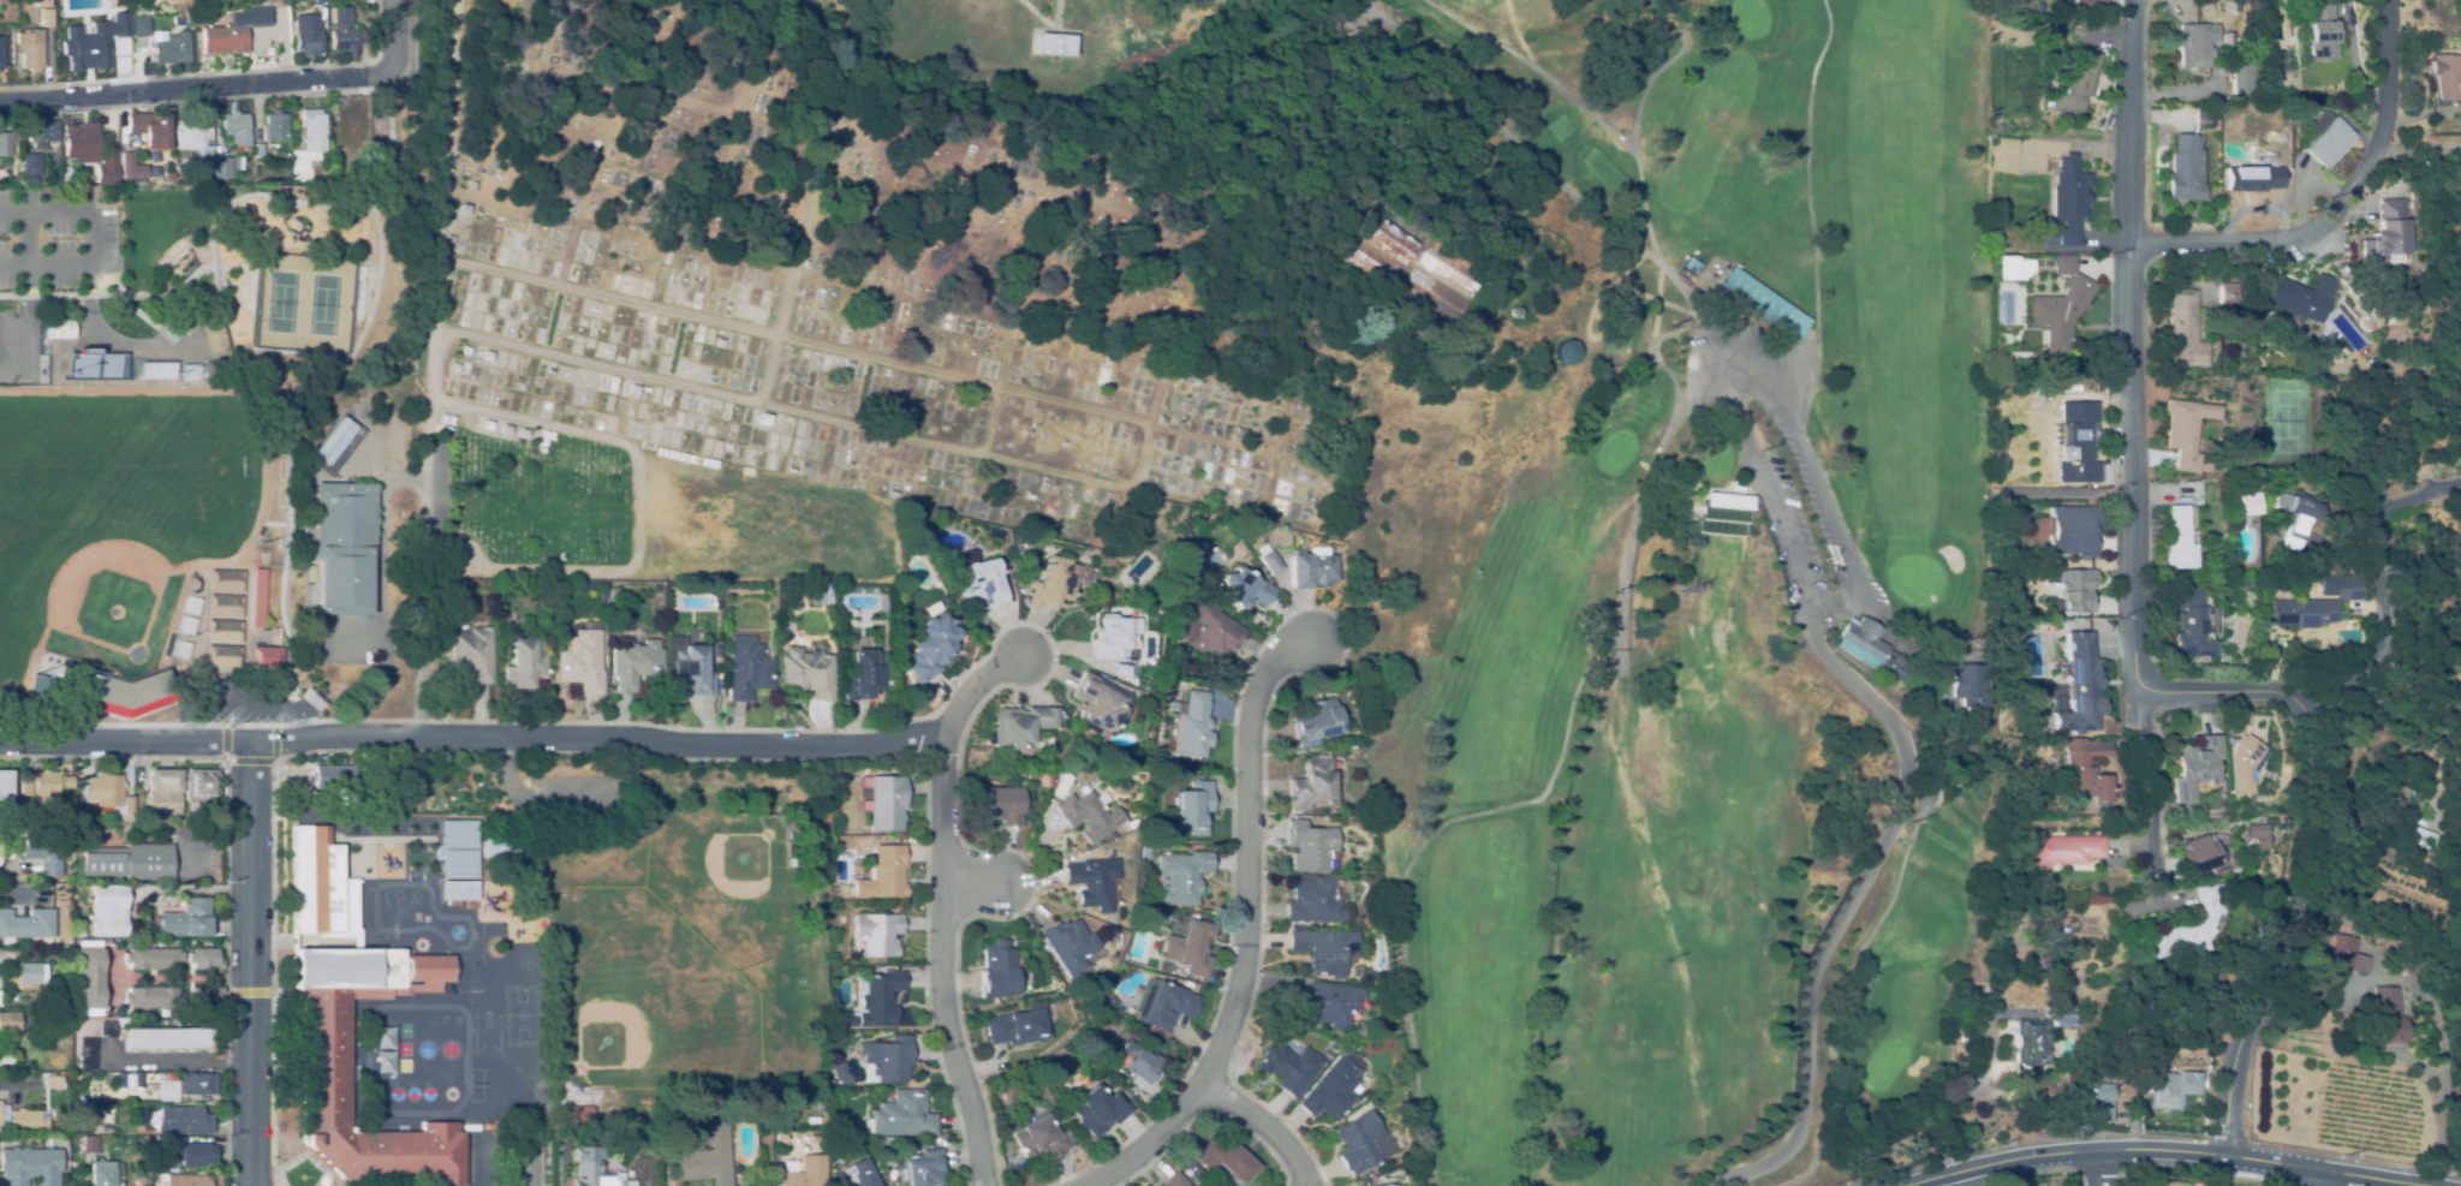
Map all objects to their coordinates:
building: (800, 5)
building: (2087, 5)
building: (132, 6)
building: (197, 18)
building: (43, 19)
building: (187, 19)
building: (99, 22)
building: (119, 24)
building: (138, 26)
building: (233, 30)
building: (345, 32)
building: (2323, 32)
road: (399, 34)
building: (308, 40)
building: (2228, 42)
building: (1056, 44)
building: (2195, 46)
building: (168, 48)
building: (0, 49)
building: (29, 49)
building: (85, 50)
building: (2448, 77)
building: (2242, 78)
building: (2076, 84)
road: (197, 85)
building: (2301, 111)
building: (2205, 117)
building: (275, 126)
building: (150, 129)
building: (237, 130)
building: (41, 132)
building: (348, 132)
road: (1615, 136)
building: (193, 137)
building: (2278, 137)
building: (2328, 138)
building: (78, 142)
building: (5, 144)
building: (309, 145)
road: (893, 147)
road: (2423, 147)
building: (260, 150)
building: (30, 165)
building: (107, 166)
building: (132, 167)
building: (222, 167)
building: (2186, 168)
building: (168, 175)
building: (2252, 177)
building: (138, 181)
building: (473, 183)
building: (854, 195)
building: (2069, 199)
road: (2341, 208)
building: (464, 209)
building: (1996, 236)
building: (2385, 236)
parking lot: (54, 237)
building: (448, 237)
road: (26, 238)
road: (93, 238)
building: (1354, 250)
building: (2417, 263)
building: (805, 264)
building: (1693, 267)
building: (2007, 267)
building: (2034, 267)
park: (893, 279)
building: (1418, 280)
building: (2228, 294)
building: (2301, 297)
building: (1764, 303)
building: (2060, 308)
building: (1497, 311)
park: (222, 315)
building: (181, 321)
building: (58, 324)
building: (2185, 330)
building: (216, 341)
building: (720, 342)
park: (18, 351)
building: (465, 351)
building: (1553, 351)
building: (487, 356)
building: (94, 364)
building: (244, 365)
road: (430, 366)
building: (454, 368)
building: (633, 389)
road: (1765, 393)
building: (442, 418)
building: (763, 419)
building: (451, 421)
building: (910, 424)
building: (487, 425)
building: (506, 430)
building: (2185, 433)
building: (523, 434)
building: (543, 439)
building: (334, 440)
building: (2078, 441)
road: (1146, 448)
road: (1806, 457)
building: (803, 465)
building: (791, 470)
building: (943, 483)
building: (1730, 487)
parking lot: (1794, 490)
building: (302, 493)
building: (893, 494)
road: (665, 496)
building: (2247, 503)
building: (1721, 514)
building: (2295, 519)
building: (905, 528)
building: (2070, 530)
park: (112, 538)
building: (2176, 540)
building: (344, 546)
building: (1191, 555)
building: (1269, 559)
building: (239, 565)
building: (1312, 567)
building: (226, 580)
road: (2376, 580)
building: (981, 583)
building: (1053, 583)
park: (1691, 585)
building: (1245, 590)
building: (2072, 590)
building: (613, 596)
building: (258, 598)
building: (2314, 606)
building: (226, 607)
building: (2187, 621)
building: (1174, 625)
building: (225, 631)
building: (1214, 632)
building: (1114, 643)
building: (774, 644)
building: (929, 648)
building: (1858, 648)
building: (715, 651)
building: (472, 654)
building: (224, 656)
building: (267, 657)
building: (580, 662)
building: (523, 663)
building: (633, 664)
building: (2027, 667)
road: (2140, 667)
building: (745, 669)
building: (691, 671)
building: (806, 673)
building: (862, 675)
building: (1959, 685)
building: (2072, 686)
building: (125, 689)
building: (44, 690)
road: (975, 690)
building: (1096, 704)
building: (1318, 722)
road: (136, 723)
building: (1018, 726)
building: (1193, 726)
road: (469, 735)
road: (600, 752)
road: (250, 759)
building: (2235, 759)
building: (2185, 767)
road: (1897, 768)
building: (2072, 768)
building: (864, 771)
building: (2001, 771)
building: (423, 776)
building: (333, 777)
building: (1042, 780)
building: (48, 783)
building: (1311, 783)
road: (2144, 785)
building: (1059, 786)
building: (199, 787)
building: (109, 789)
building: (5, 791)
building: (163, 792)
building: (881, 803)
building: (996, 805)
building: (1192, 807)
building: (129, 809)
building: (1084, 816)
building: (1131, 823)
building: (87, 824)
building: (458, 834)
building: (2251, 835)
building: (2421, 836)
building: (43, 845)
building: (1309, 846)
building: (499, 848)
building: (2051, 850)
building: (1098, 851)
building: (1144, 852)
building: (2189, 854)
road: (227, 859)
building: (129, 862)
road: (196, 862)
building: (459, 864)
road: (2, 872)
building: (881, 875)
building: (1179, 877)
building: (1089, 884)
road: (196, 889)
building: (458, 890)
building: (1313, 900)
building: (108, 911)
building: (187, 919)
building: (26, 924)
building: (2176, 926)
road: (1247, 929)
building: (82, 934)
building: (876, 934)
building: (1067, 946)
building: (1188, 946)
building: (1324, 949)
building: (2353, 954)
building: (25, 955)
building: (153, 958)
building: (2407, 958)
building: (204, 959)
road: (940, 961)
road: (250, 965)
building: (996, 971)
building: (28, 973)
building: (89, 978)
road: (249, 991)
park: (643, 996)
building: (153, 997)
building: (204, 997)
building: (874, 1002)
building: (327, 1003)
building: (1167, 1005)
building: (1334, 1005)
building: (2390, 1017)
building: (2058, 1018)
building: (10, 1021)
building: (1018, 1026)
building: (107, 1030)
building: (165, 1038)
building: (2026, 1042)
building: (88, 1054)
building: (6, 1059)
building: (888, 1059)
road: (179, 1061)
building: (2153, 1062)
building: (1289, 1067)
building: (1143, 1068)
building: (840, 1072)
building: (129, 1079)
building: (54, 1080)
road: (6, 1083)
building: (186, 1086)
building: (2170, 1089)
building: (1333, 1090)
building: (2102, 1097)
building: (91, 1099)
building: (1098, 1110)
building: (0, 1113)
building: (902, 1115)
building: (577, 1116)
building: (28, 1120)
building: (183, 1121)
road: (1264, 1126)
building: (842, 1128)
building: (101, 1130)
building: (488, 1130)
building: (1039, 1139)
building: (23, 1142)
building: (1361, 1143)
building: (90, 1145)
road: (2168, 1148)
building: (161, 1149)
building: (195, 1154)
building: (708, 1157)
building: (1223, 1157)
building: (30, 1166)
building: (1192, 1167)
road: (2098, 1167)
building: (595, 1169)
building: (924, 1169)
building: (1186, 1172)
building: (806, 1173)
building: (102, 1174)
building: (1198, 1174)
building: (857, 1175)
road: (2308, 1176)
building: (183, 1180)
building: (1175, 1180)
building: (880, 1181)
building: (2164, 1184)
building: (1388, 1185)

